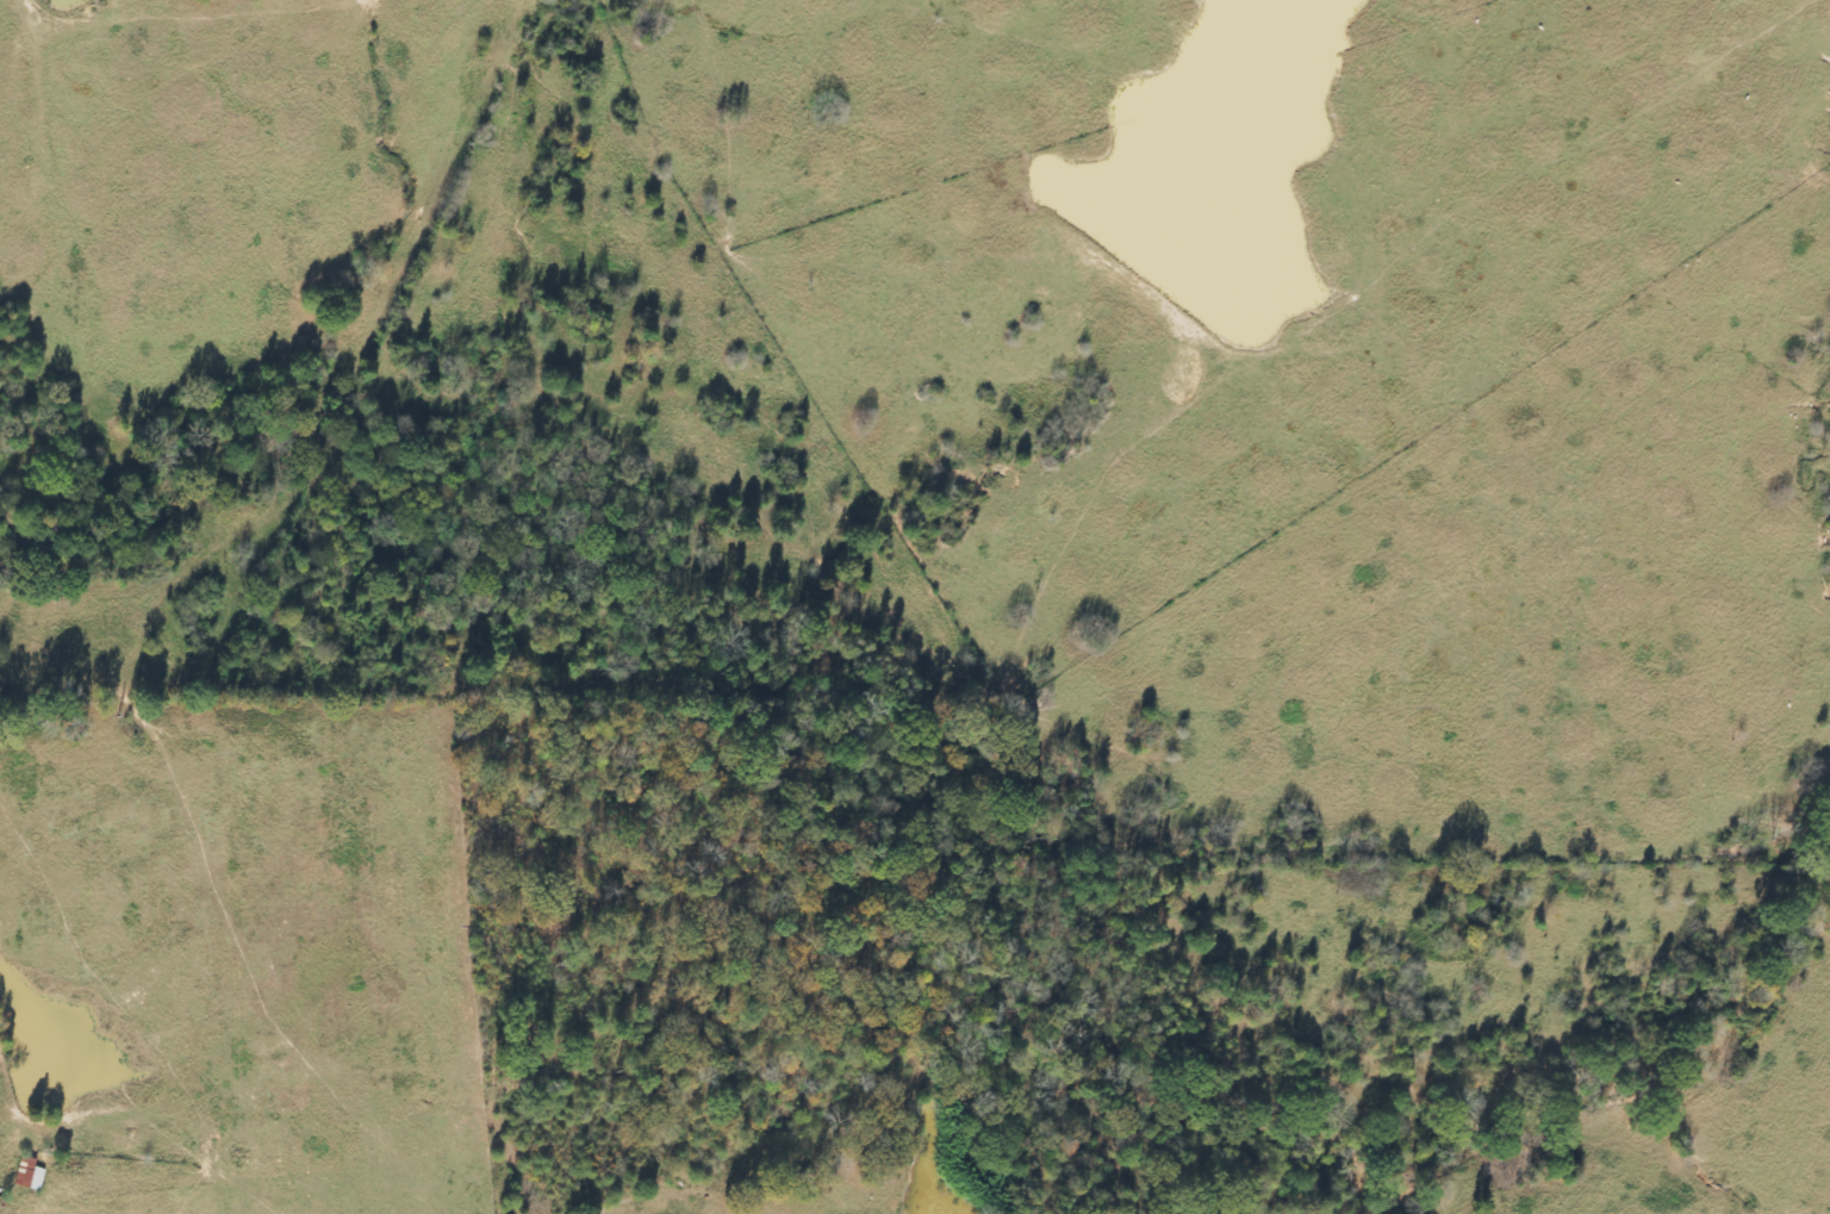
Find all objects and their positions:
building: (31, 1175)

